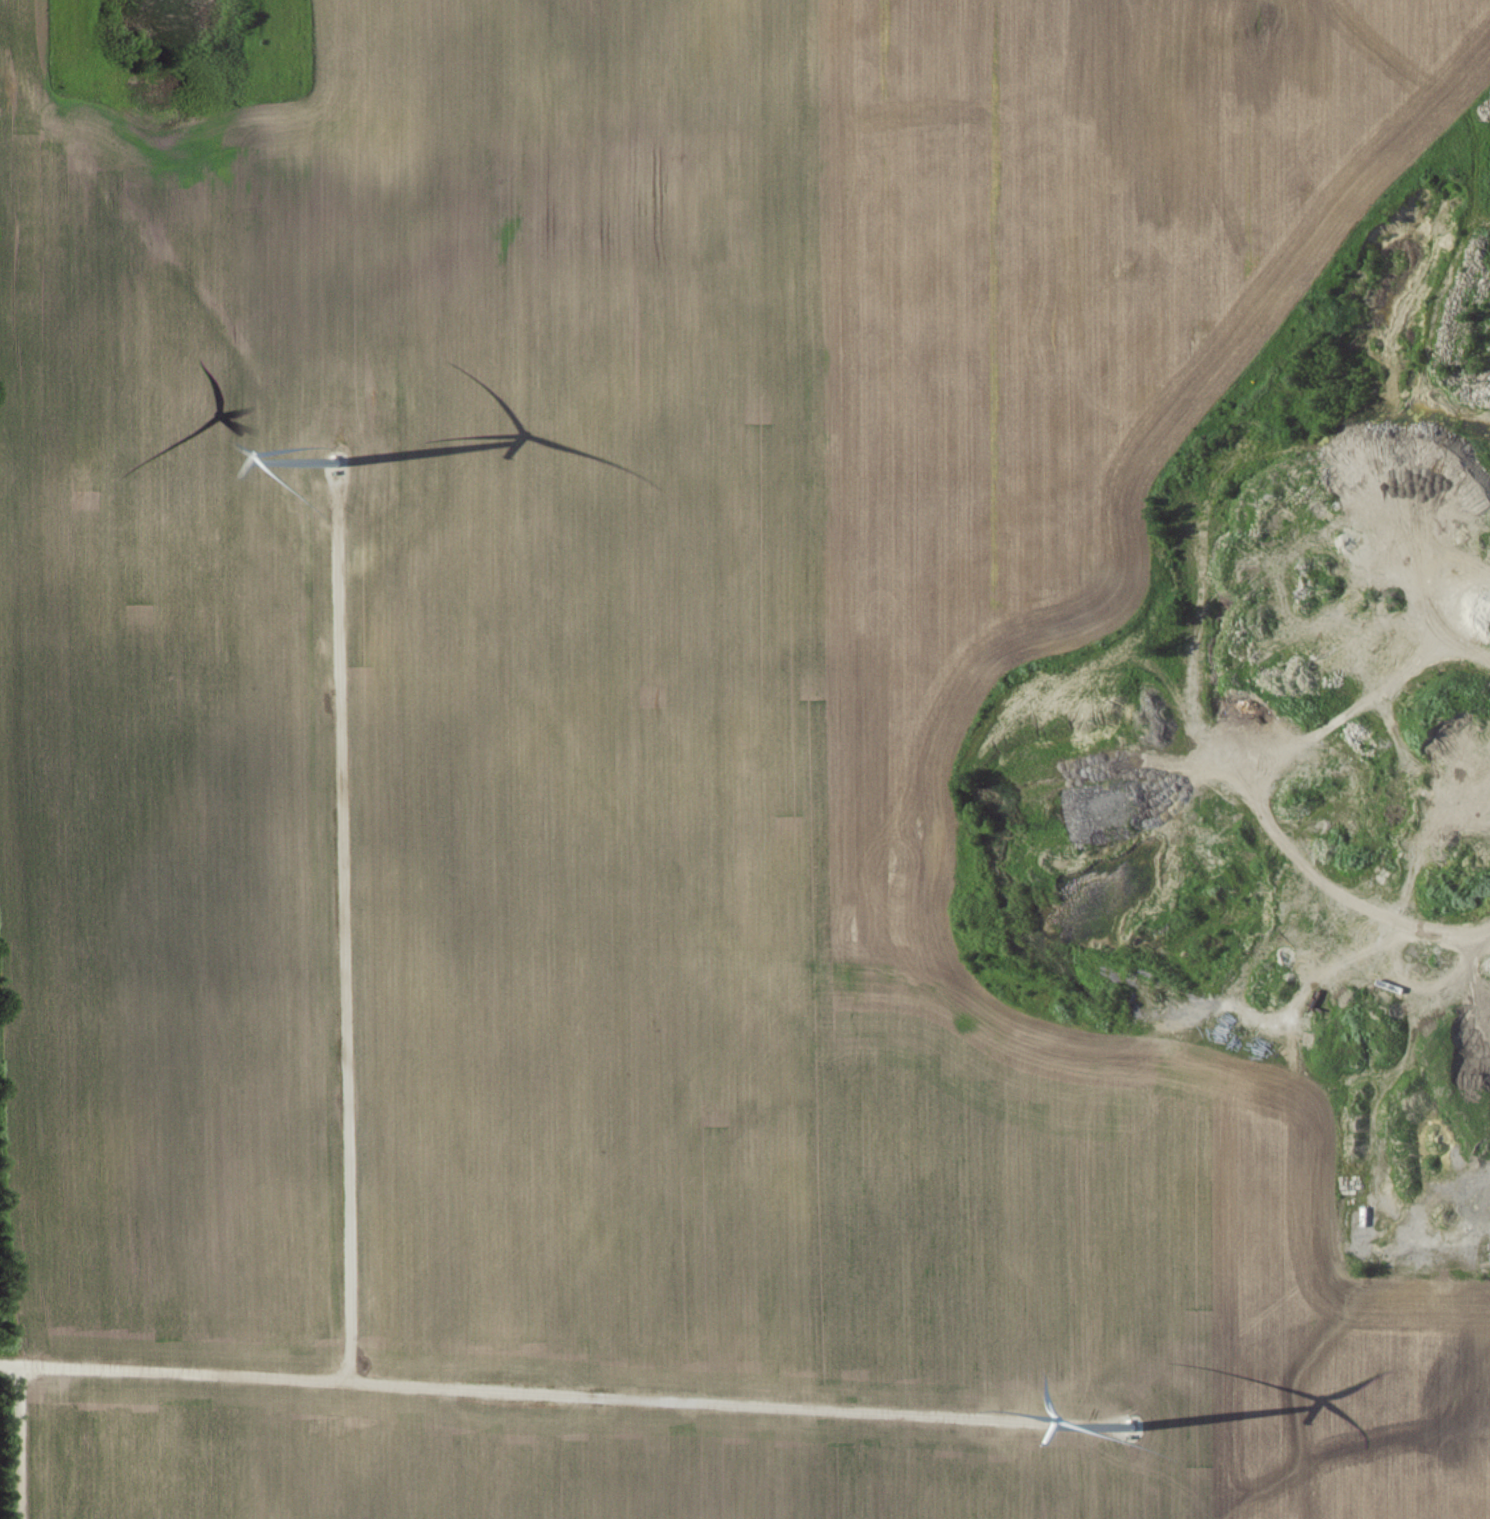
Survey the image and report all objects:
wind turbine: (345, 465)
road: (342, 938)
road: (539, 1393)
wind turbine: (1117, 1432)
road: (22, 1442)

